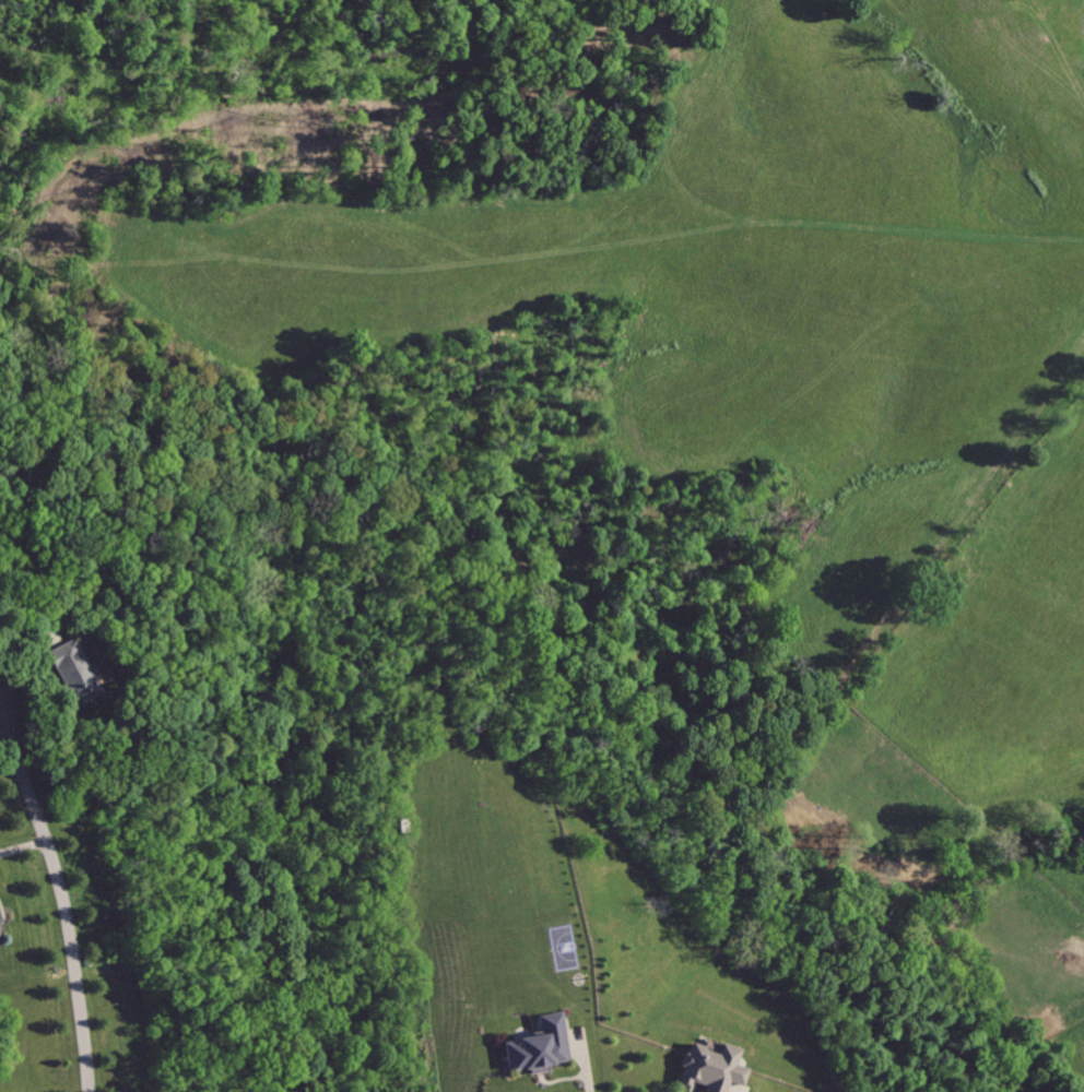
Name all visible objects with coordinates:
building: (76, 670)
road: (62, 897)
building: (1, 926)
building: (541, 1046)
building: (711, 1068)

